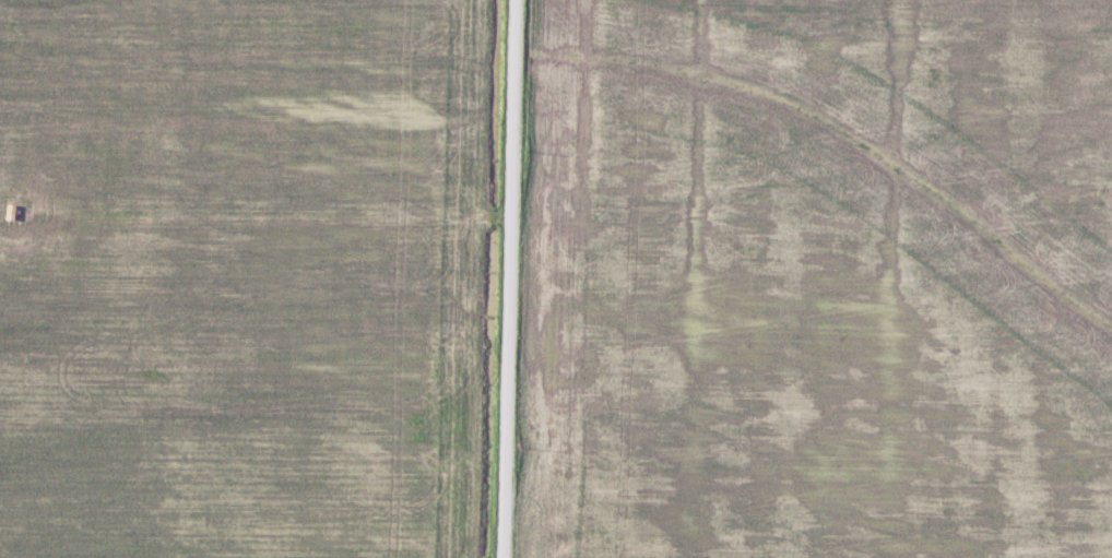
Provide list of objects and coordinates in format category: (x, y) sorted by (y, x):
road: (507, 278)

